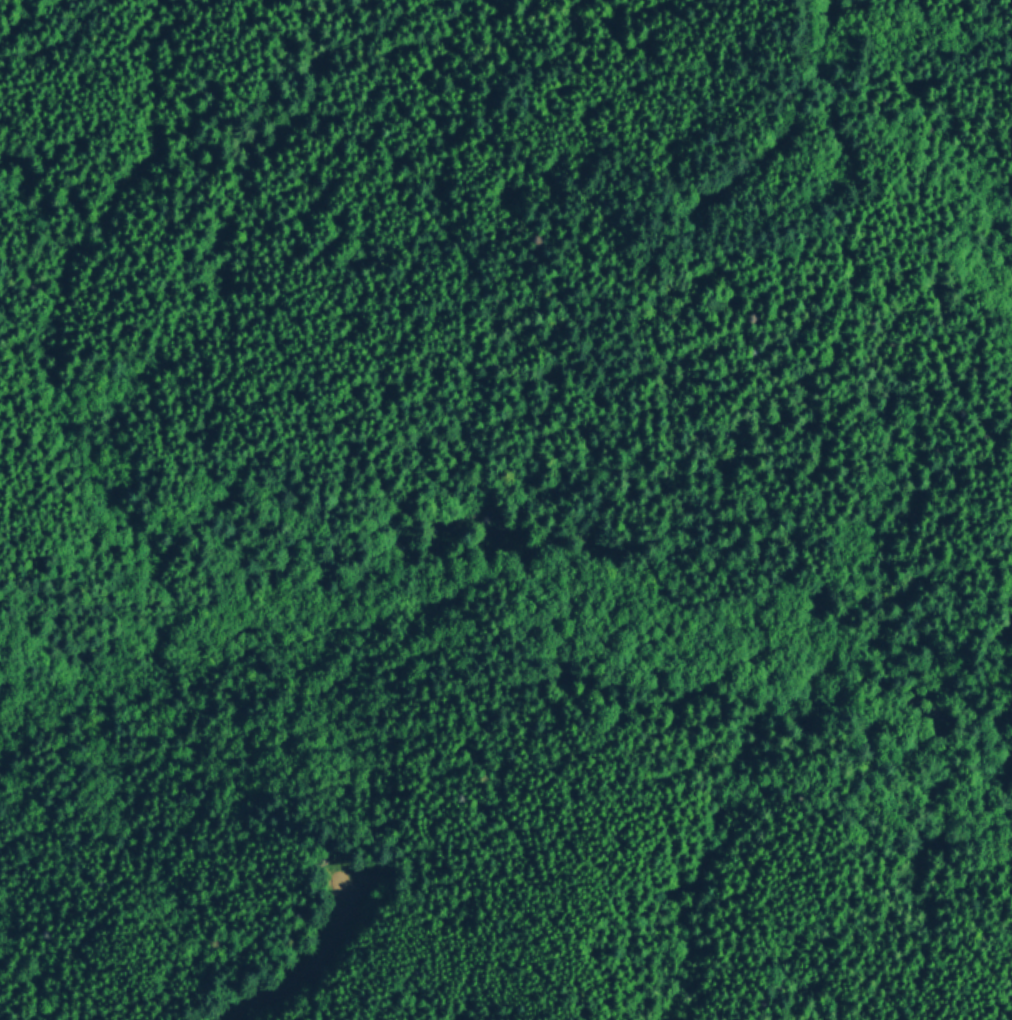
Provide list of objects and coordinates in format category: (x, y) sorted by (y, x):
road: (885, 84)
road: (308, 971)

